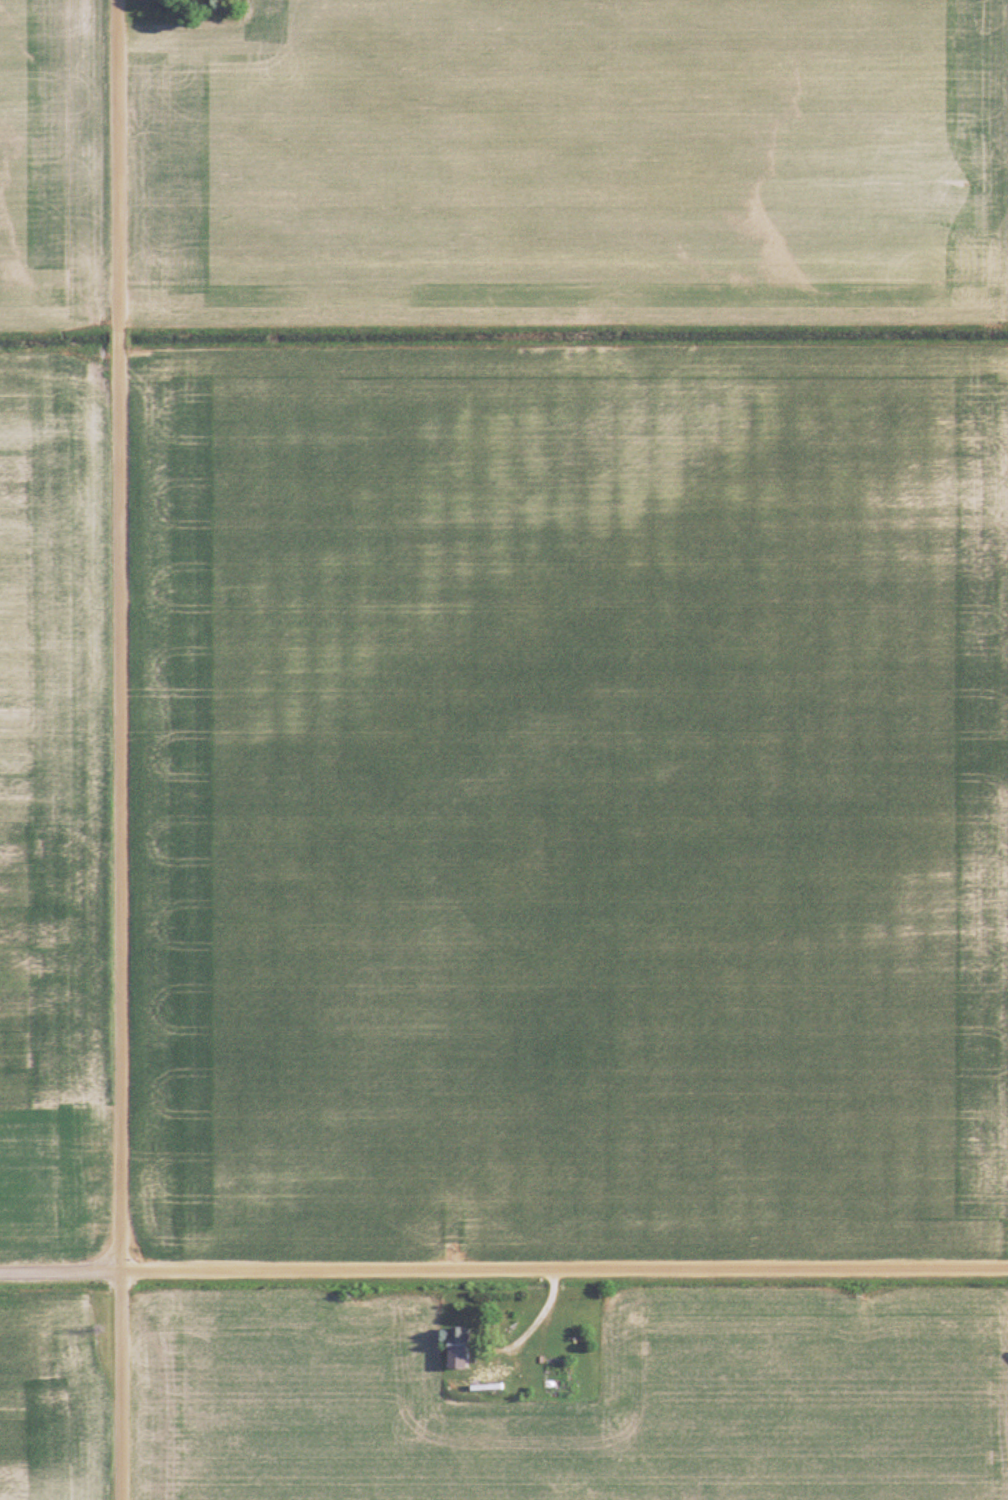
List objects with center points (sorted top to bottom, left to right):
road: (119, 749)
road: (504, 1273)
building: (455, 1346)

